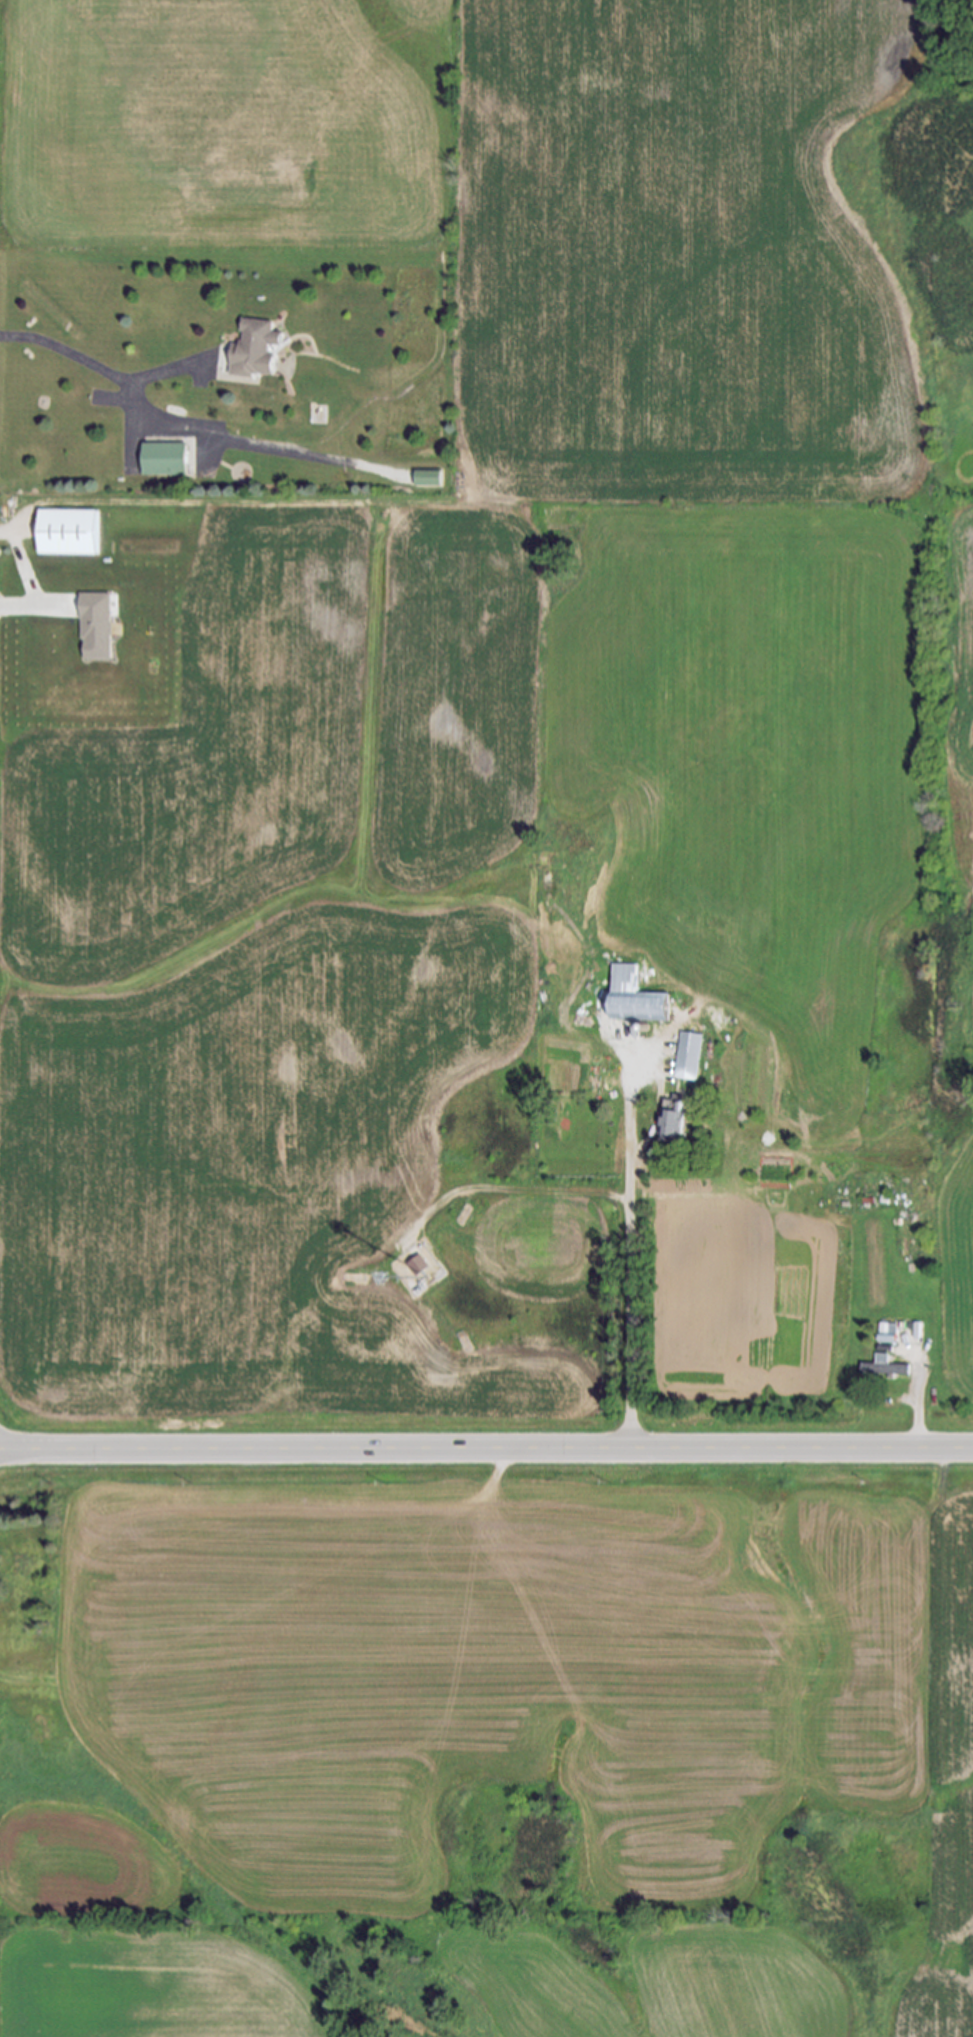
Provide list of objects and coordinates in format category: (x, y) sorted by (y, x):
building: (255, 350)
road: (165, 372)
road: (162, 427)
building: (163, 460)
building: (427, 479)
building: (66, 533)
building: (97, 626)
crop: (460, 668)
building: (633, 998)
building: (688, 1056)
building: (672, 1123)
road: (509, 1189)
road: (630, 1238)
building: (417, 1267)
crop: (959, 1283)
crop: (752, 1314)
building: (888, 1339)
building: (884, 1370)
road: (919, 1404)
road: (486, 1450)
crop: (532, 1671)
crop: (122, 1943)
crop: (734, 1983)
crop: (532, 1986)

